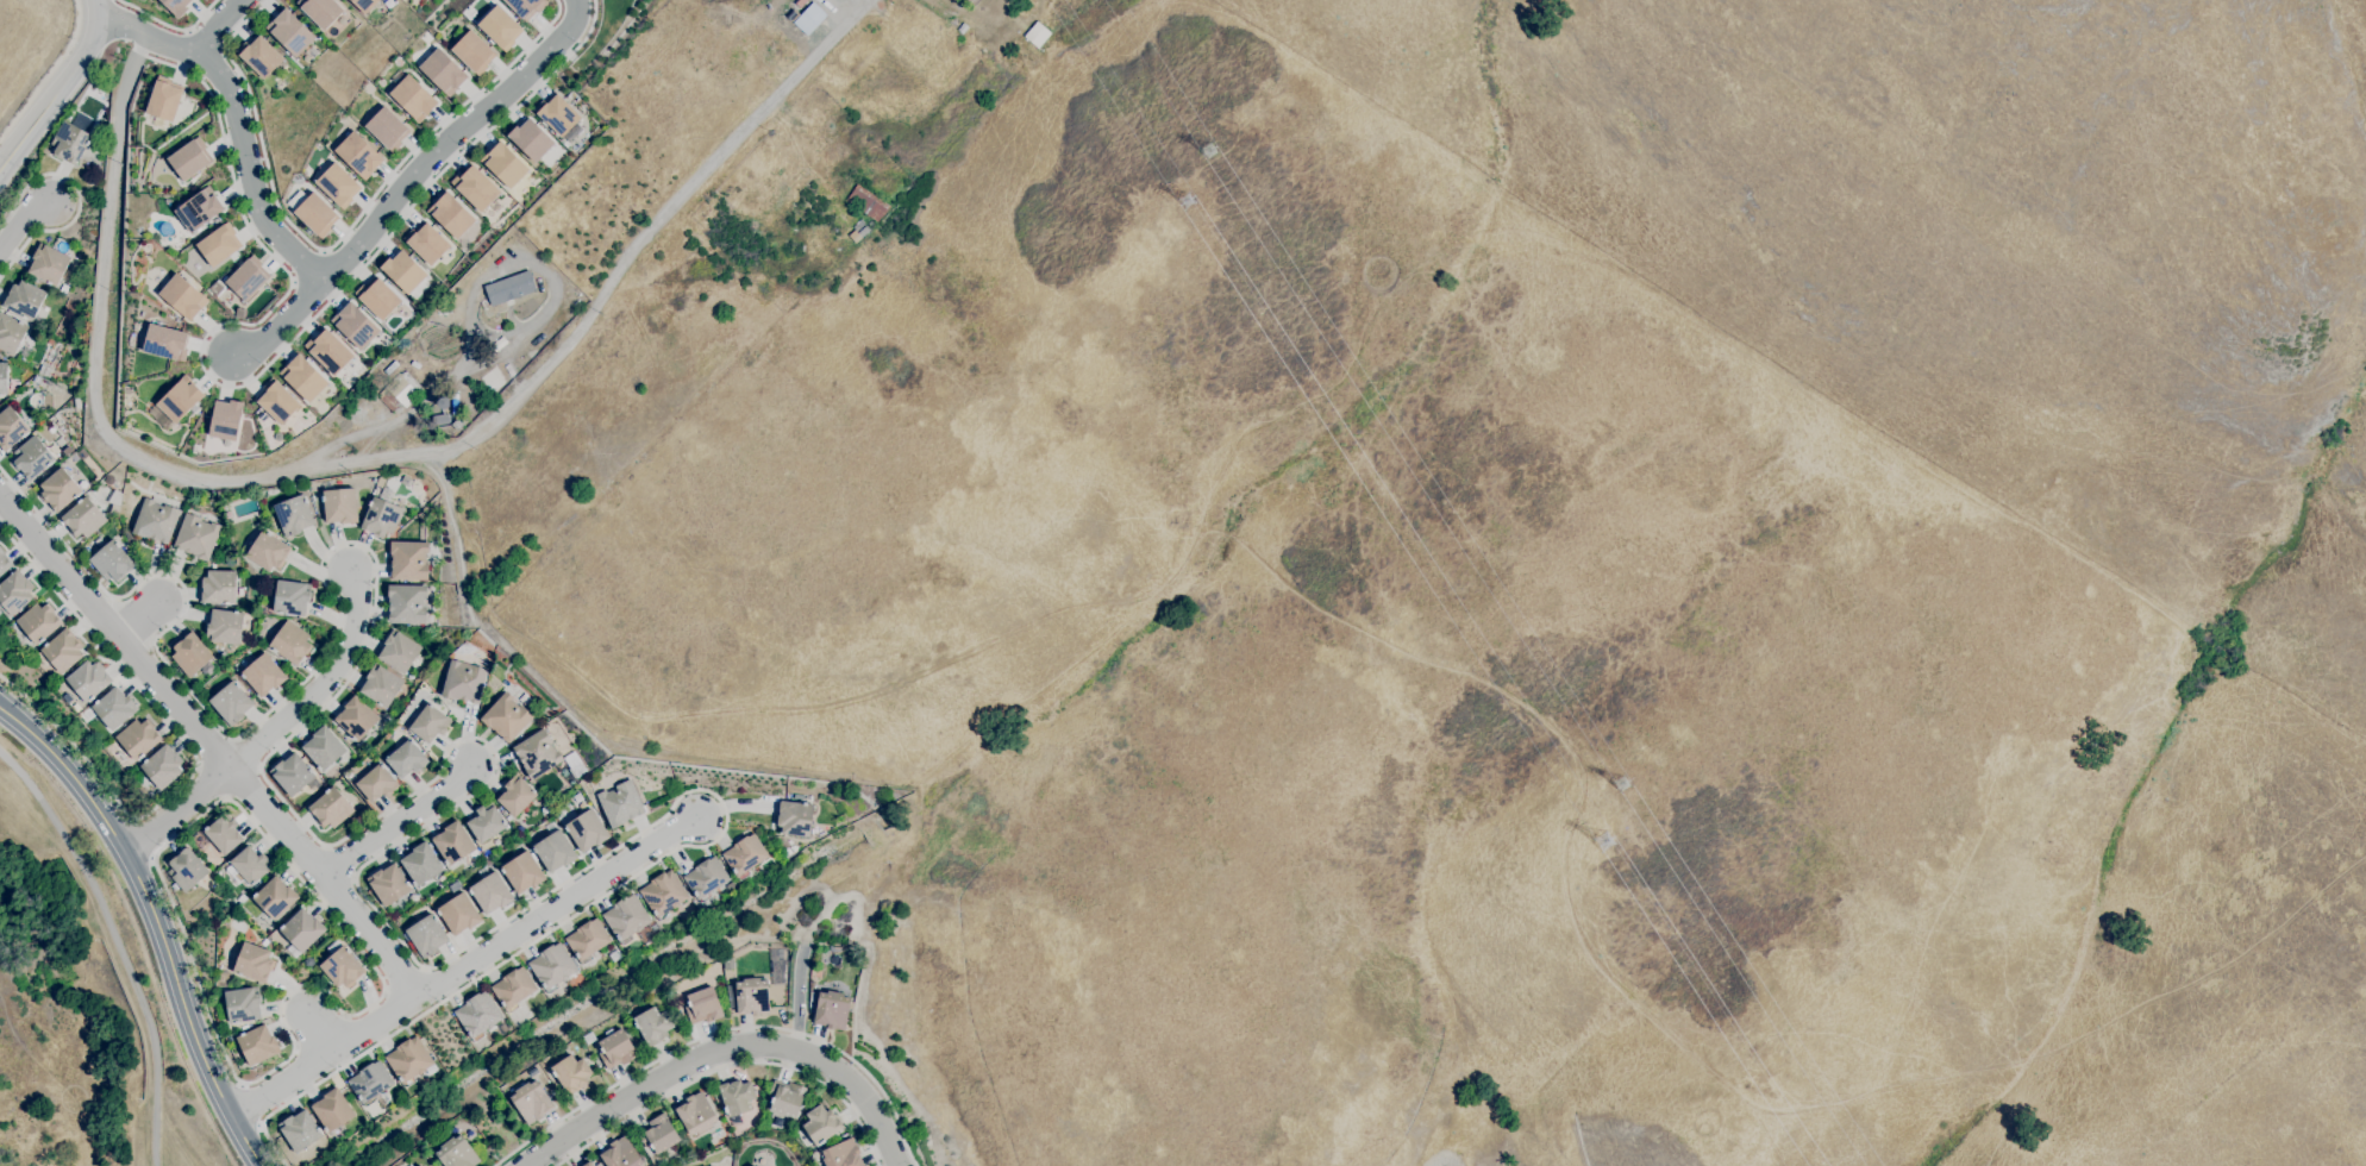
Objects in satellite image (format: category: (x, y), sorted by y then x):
building: (970, 0)
road: (98, 1)
building: (370, 5)
building: (181, 6)
building: (530, 6)
road: (96, 8)
building: (330, 10)
building: (793, 14)
building: (809, 18)
road: (220, 21)
road: (168, 26)
building: (963, 27)
building: (294, 29)
building: (505, 29)
road: (149, 33)
building: (1037, 33)
park: (595, 38)
building: (480, 52)
building: (268, 57)
building: (445, 71)
road: (49, 74)
road: (54, 95)
building: (414, 95)
building: (167, 99)
building: (561, 118)
building: (387, 127)
building: (415, 132)
building: (534, 139)
building: (70, 143)
power tower: (1214, 152)
building: (362, 156)
building: (192, 158)
building: (509, 164)
building: (340, 184)
building: (480, 190)
power tower: (1188, 200)
road: (77, 201)
building: (866, 202)
building: (201, 208)
building: (319, 214)
building: (453, 217)
road: (21, 221)
road: (651, 225)
building: (859, 230)
road: (359, 243)
building: (432, 244)
building: (220, 246)
building: (49, 263)
building: (408, 271)
building: (246, 282)
building: (509, 288)
building: (63, 289)
building: (183, 296)
building: (384, 299)
building: (25, 300)
road: (465, 314)
building: (358, 322)
road: (282, 325)
building: (11, 332)
building: (162, 340)
building: (336, 350)
building: (311, 372)
road: (255, 375)
building: (4, 377)
building: (400, 391)
building: (180, 399)
building: (281, 401)
road: (96, 405)
building: (442, 416)
building: (229, 418)
building: (458, 424)
building: (11, 428)
building: (256, 443)
building: (32, 458)
road: (446, 475)
building: (378, 481)
building: (406, 481)
building: (60, 490)
building: (115, 497)
building: (340, 506)
building: (294, 515)
building: (381, 516)
building: (83, 519)
building: (156, 520)
building: (196, 537)
building: (268, 551)
building: (409, 560)
building: (4, 562)
building: (112, 562)
building: (219, 587)
building: (15, 593)
building: (292, 597)
building: (407, 603)
building: (263, 608)
road: (140, 620)
building: (39, 622)
building: (225, 626)
building: (290, 641)
building: (63, 650)
building: (399, 651)
building: (192, 653)
building: (263, 675)
building: (412, 676)
building: (88, 679)
building: (464, 682)
road: (321, 685)
building: (381, 685)
building: (231, 702)
building: (114, 708)
building: (506, 716)
building: (356, 719)
building: (430, 723)
building: (138, 738)
road: (211, 745)
building: (324, 747)
road: (489, 748)
road: (190, 750)
building: (537, 754)
building: (407, 758)
building: (162, 766)
building: (293, 775)
building: (377, 783)
power tower: (1628, 785)
building: (517, 795)
building: (797, 797)
building: (620, 803)
road: (738, 805)
building: (330, 808)
road: (177, 810)
building: (794, 817)
building: (486, 822)
road: (396, 823)
building: (587, 830)
building: (224, 833)
road: (144, 839)
building: (452, 842)
power tower: (1609, 844)
building: (555, 851)
building: (744, 855)
building: (421, 863)
building: (249, 866)
building: (186, 870)
building: (522, 872)
building: (706, 878)
building: (389, 884)
building: (490, 892)
building: (663, 894)
building: (275, 897)
building: (459, 914)
building: (626, 917)
road: (156, 921)
building: (301, 932)
building: (427, 935)
building: (587, 940)
road: (112, 946)
building: (253, 963)
building: (342, 965)
road: (464, 965)
building: (552, 966)
building: (513, 989)
building: (752, 996)
road: (799, 997)
road: (330, 998)
building: (243, 1004)
building: (703, 1005)
building: (831, 1009)
building: (477, 1015)
building: (653, 1024)
road: (326, 1032)
road: (720, 1032)
building: (258, 1045)
building: (616, 1048)
road: (724, 1049)
building: (408, 1060)
road: (728, 1067)
building: (571, 1073)
building: (370, 1083)
building: (737, 1097)
building: (785, 1097)
building: (531, 1102)
road: (252, 1104)
building: (332, 1109)
building: (696, 1114)
building: (821, 1124)
building: (300, 1130)
building: (658, 1134)
building: (718, 1136)
building: (457, 1153)
building: (841, 1153)
building: (620, 1154)
building: (588, 1164)
building: (419, 1165)
building: (420, 1165)
road: (526, 1165)
building: (755, 1165)

